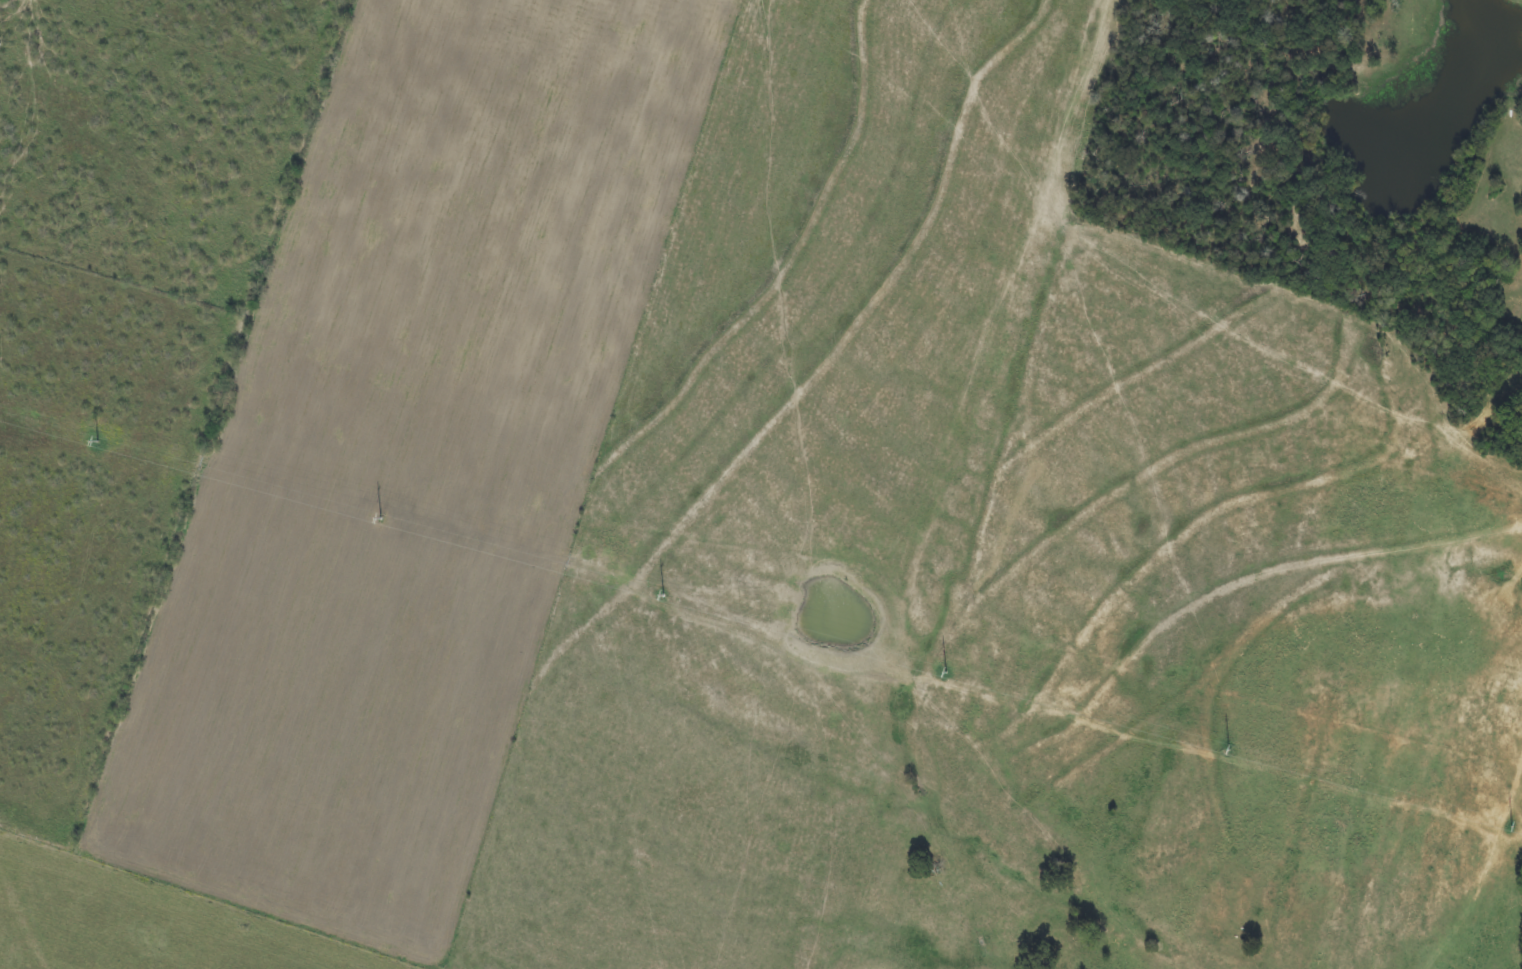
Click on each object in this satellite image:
power tower: (97, 442)
power tower: (379, 519)
power tower: (663, 596)
power tower: (945, 672)
power tower: (1228, 751)
power tower: (1510, 827)

